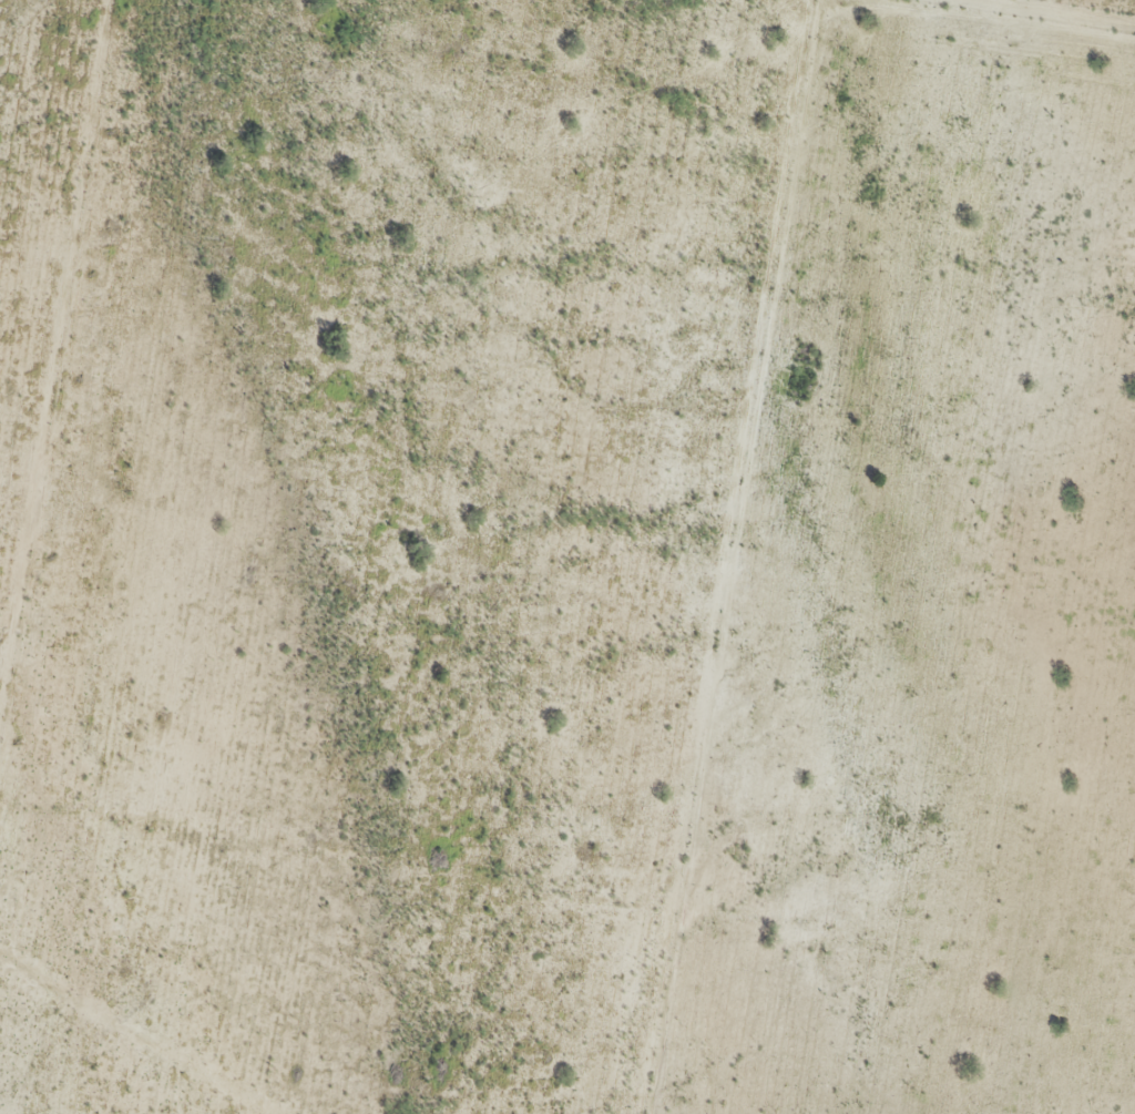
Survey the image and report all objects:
road: (858, 980)

